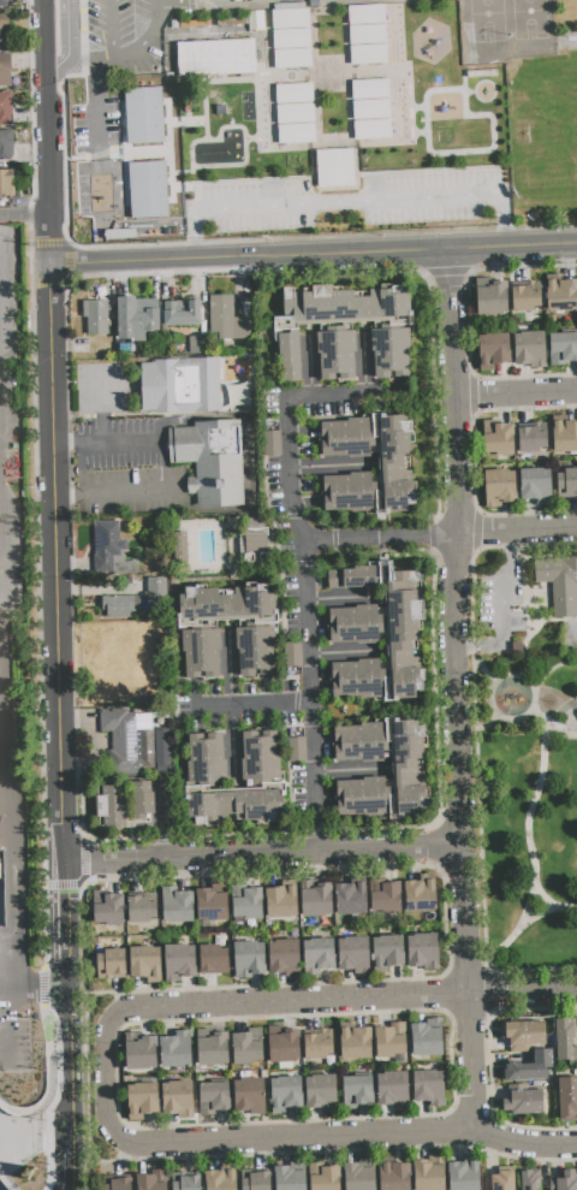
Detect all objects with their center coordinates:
building: (4, 4)
road: (111, 25)
building: (4, 28)
road: (66, 28)
parking lot: (126, 35)
building: (367, 35)
road: (46, 39)
building: (291, 41)
road: (129, 45)
building: (215, 58)
road: (56, 66)
building: (5, 71)
building: (5, 108)
building: (371, 111)
building: (142, 114)
building: (295, 114)
park: (553, 132)
building: (6, 146)
building: (334, 171)
building: (6, 183)
building: (145, 189)
road: (349, 201)
parking lot: (347, 202)
road: (24, 218)
road: (514, 248)
road: (251, 257)
building: (561, 295)
building: (527, 297)
building: (492, 298)
building: (341, 304)
building: (182, 314)
building: (95, 316)
building: (136, 318)
building: (227, 324)
building: (196, 344)
building: (125, 348)
building: (563, 348)
building: (529, 349)
building: (493, 350)
building: (391, 353)
building: (288, 355)
building: (335, 355)
building: (180, 385)
road: (518, 396)
road: (103, 405)
building: (565, 437)
building: (347, 438)
building: (533, 438)
building: (500, 440)
building: (273, 444)
building: (210, 461)
building: (395, 464)
road: (162, 467)
building: (566, 482)
building: (536, 486)
building: (499, 487)
building: (349, 492)
road: (55, 532)
road: (521, 533)
road: (386, 539)
building: (108, 544)
building: (256, 545)
building: (180, 550)
road: (308, 566)
building: (131, 567)
building: (352, 576)
building: (560, 584)
building: (120, 605)
building: (228, 605)
road: (504, 609)
road: (458, 622)
building: (356, 623)
building: (403, 633)
building: (256, 650)
building: (201, 652)
building: (292, 655)
road: (480, 667)
road: (504, 675)
road: (8, 676)
building: (357, 679)
road: (254, 704)
road: (482, 728)
road: (558, 733)
building: (121, 739)
building: (361, 742)
building: (147, 746)
building: (296, 750)
park: (524, 754)
building: (260, 757)
building: (207, 759)
building: (162, 766)
building: (408, 768)
building: (362, 798)
building: (143, 799)
building: (234, 806)
building: (111, 807)
road: (528, 812)
road: (264, 857)
building: (421, 893)
building: (351, 896)
building: (385, 896)
road: (542, 896)
building: (316, 899)
building: (281, 900)
building: (246, 902)
building: (212, 904)
building: (177, 905)
road: (548, 908)
building: (109, 910)
building: (141, 910)
building: (269, 925)
building: (423, 951)
building: (388, 952)
building: (353, 954)
building: (319, 955)
building: (285, 958)
building: (249, 959)
building: (214, 960)
building: (179, 961)
building: (145, 963)
building: (111, 964)
road: (34, 990)
road: (525, 993)
road: (305, 1002)
road: (6, 1019)
building: (524, 1035)
building: (391, 1040)
building: (427, 1040)
building: (565, 1041)
building: (356, 1043)
building: (248, 1046)
building: (317, 1046)
building: (284, 1047)
road: (2, 1048)
building: (212, 1049)
building: (176, 1050)
building: (142, 1054)
road: (47, 1060)
road: (476, 1062)
building: (285, 1065)
road: (67, 1066)
building: (529, 1067)
building: (429, 1088)
building: (393, 1089)
building: (357, 1091)
building: (322, 1093)
building: (285, 1094)
building: (250, 1096)
building: (177, 1097)
building: (567, 1097)
building: (214, 1099)
building: (142, 1100)
building: (524, 1102)
road: (4, 1105)
road: (279, 1138)
road: (69, 1166)
building: (429, 1173)
building: (394, 1176)
building: (464, 1176)
building: (323, 1177)
building: (358, 1177)
building: (288, 1178)
building: (220, 1179)
building: (151, 1180)
building: (502, 1180)
building: (529, 1180)
building: (567, 1180)
road: (6, 1182)
building: (255, 1182)
building: (188, 1183)
building: (118, 1184)

